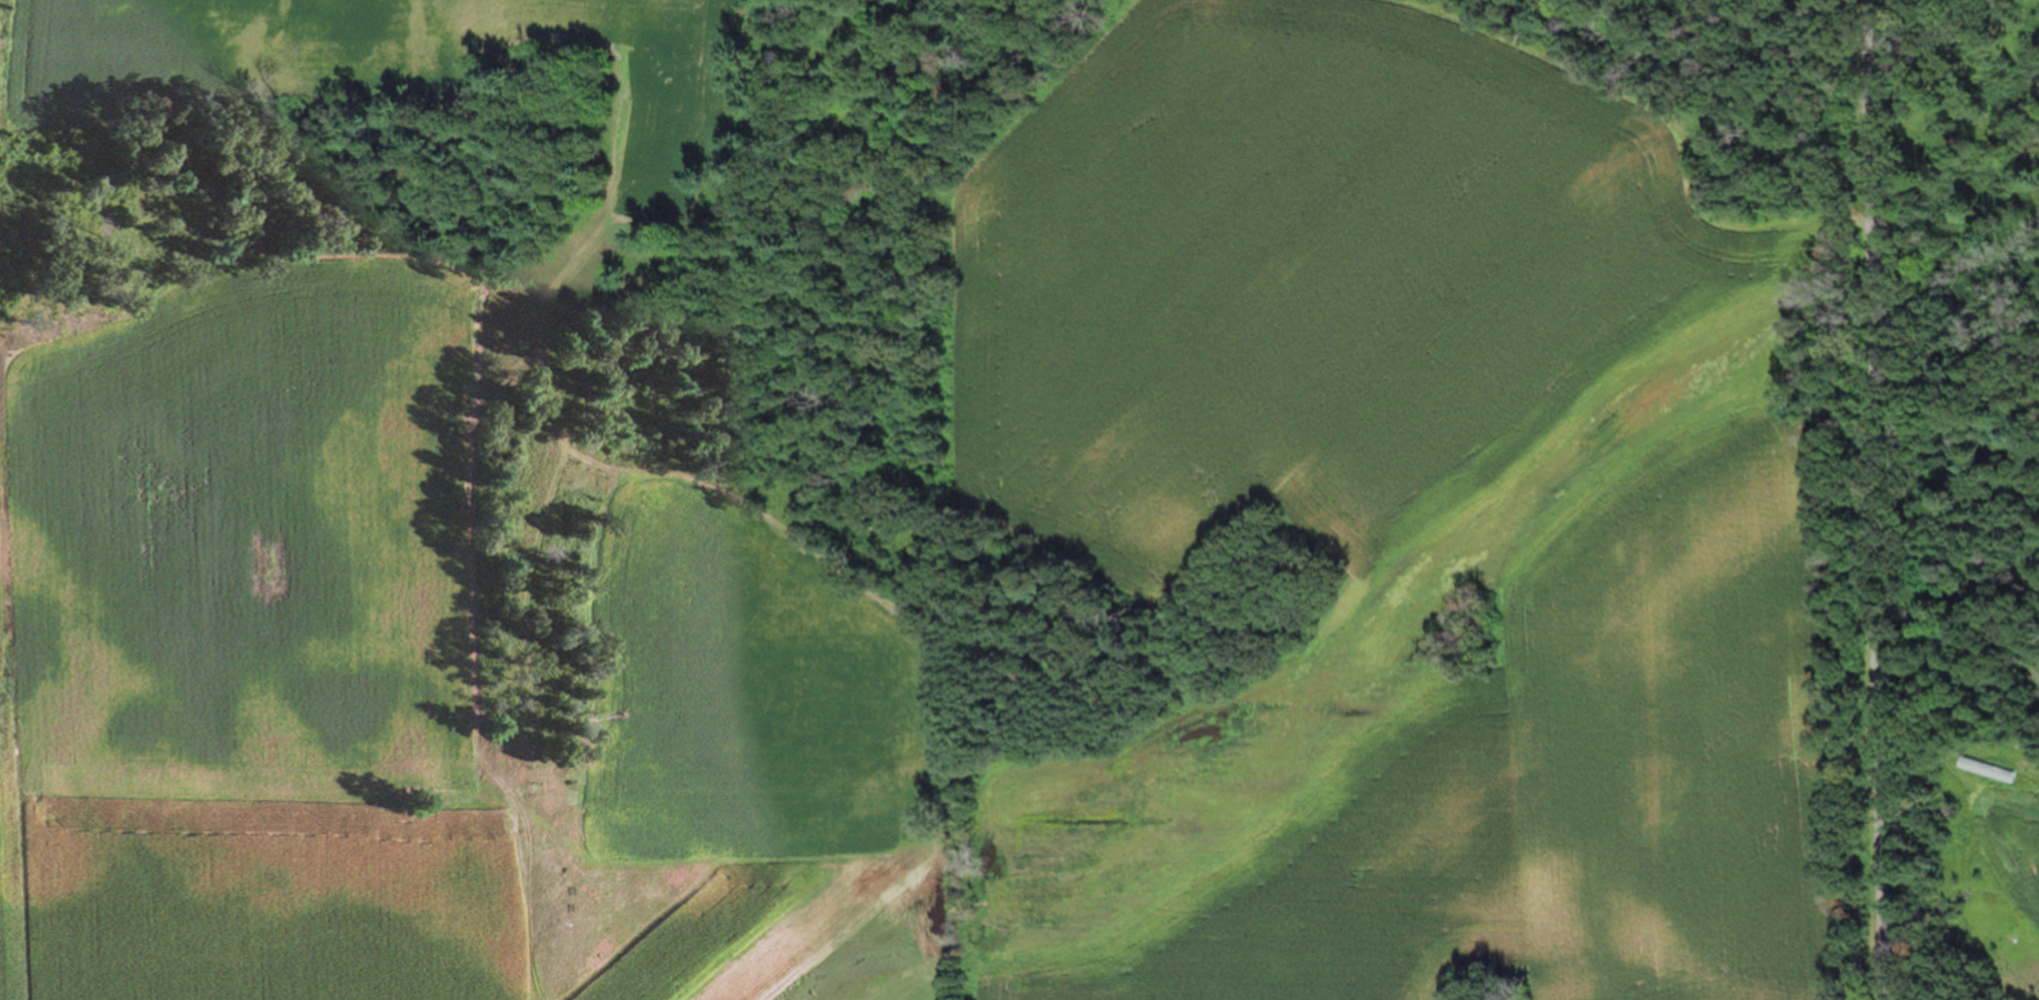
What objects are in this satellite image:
road: (1878, 500)

